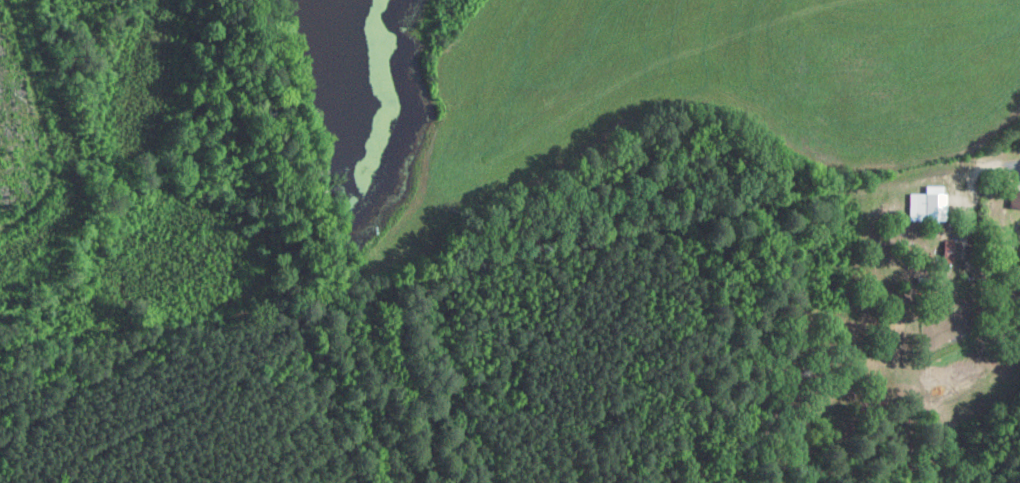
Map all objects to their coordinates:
building: (1013, 200)
road: (902, 448)

